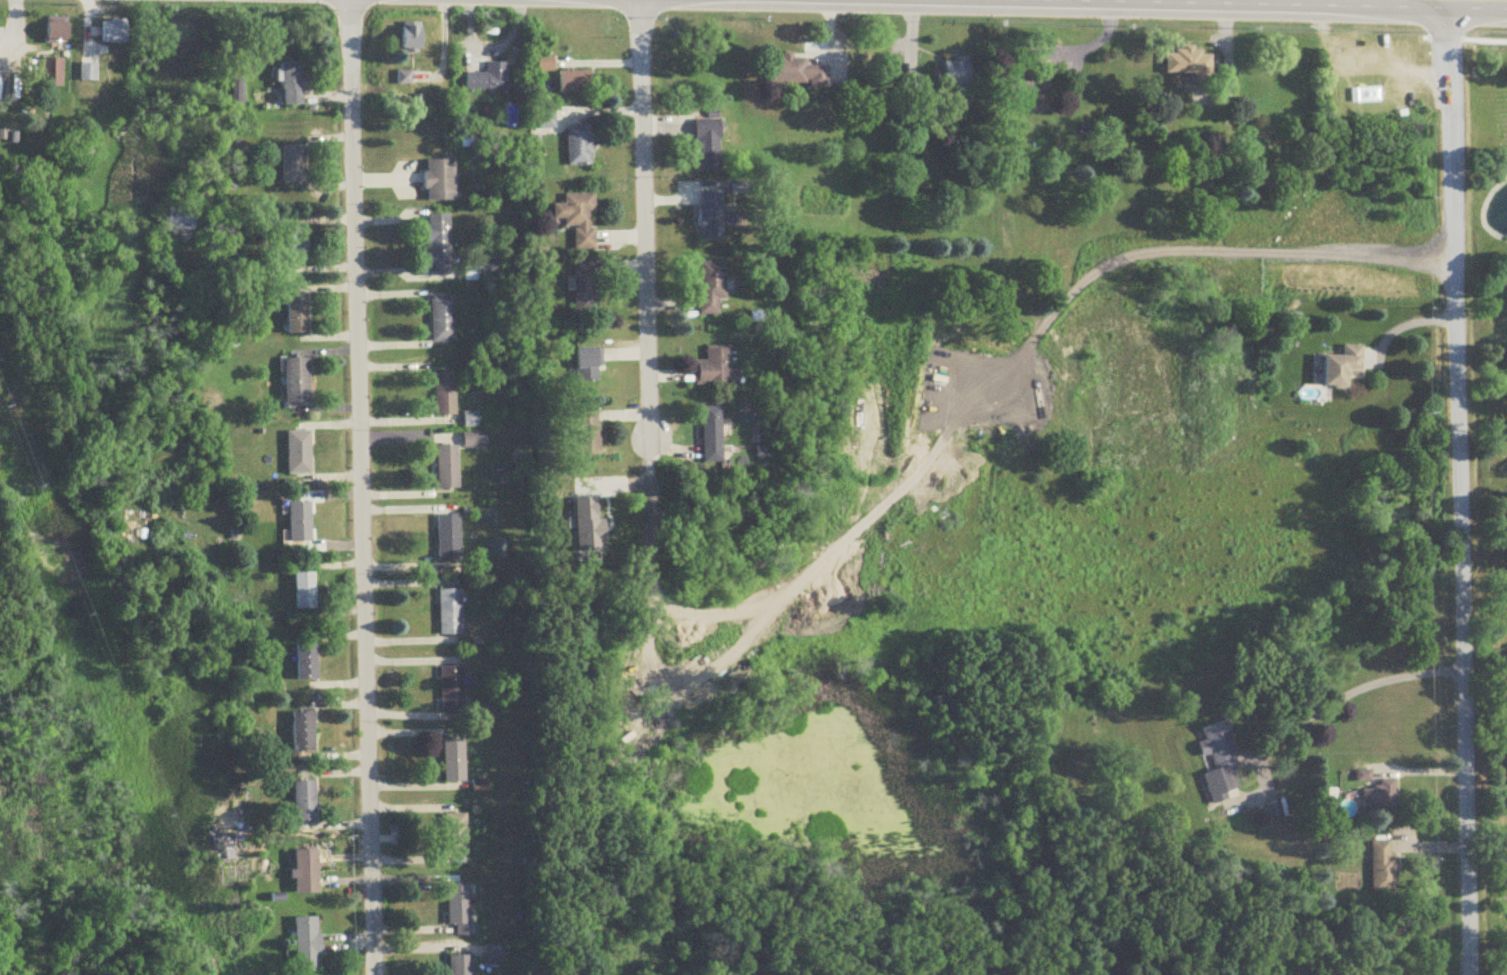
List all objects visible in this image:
road: (1479, 0)
building: (57, 31)
building: (114, 32)
building: (411, 38)
road: (1097, 46)
road: (444, 48)
road: (491, 49)
building: (544, 64)
building: (1192, 72)
building: (52, 73)
building: (88, 73)
building: (796, 73)
building: (955, 74)
building: (488, 79)
building: (1026, 81)
building: (574, 82)
building: (292, 84)
building: (910, 86)
building: (545, 120)
building: (708, 145)
building: (579, 146)
building: (293, 165)
building: (440, 181)
building: (713, 217)
building: (180, 219)
road: (644, 219)
building: (579, 220)
building: (439, 245)
building: (296, 246)
road: (1196, 248)
building: (487, 267)
building: (712, 287)
building: (585, 289)
building: (297, 316)
building: (444, 318)
road: (1406, 323)
building: (587, 367)
building: (1344, 367)
building: (716, 368)
building: (297, 382)
building: (445, 394)
building: (589, 434)
building: (713, 435)
building: (475, 440)
park: (1493, 440)
building: (299, 453)
building: (448, 468)
road: (363, 487)
road: (1462, 487)
building: (301, 523)
building: (449, 538)
building: (305, 591)
building: (451, 612)
building: (307, 662)
building: (453, 688)
road: (1351, 692)
building: (485, 711)
building: (303, 731)
building: (455, 759)
building: (1220, 763)
building: (1379, 795)
building: (305, 801)
building: (1326, 803)
building: (456, 834)
building: (1383, 868)
building: (307, 872)
building: (460, 908)
building: (307, 945)
building: (495, 953)
building: (461, 965)

